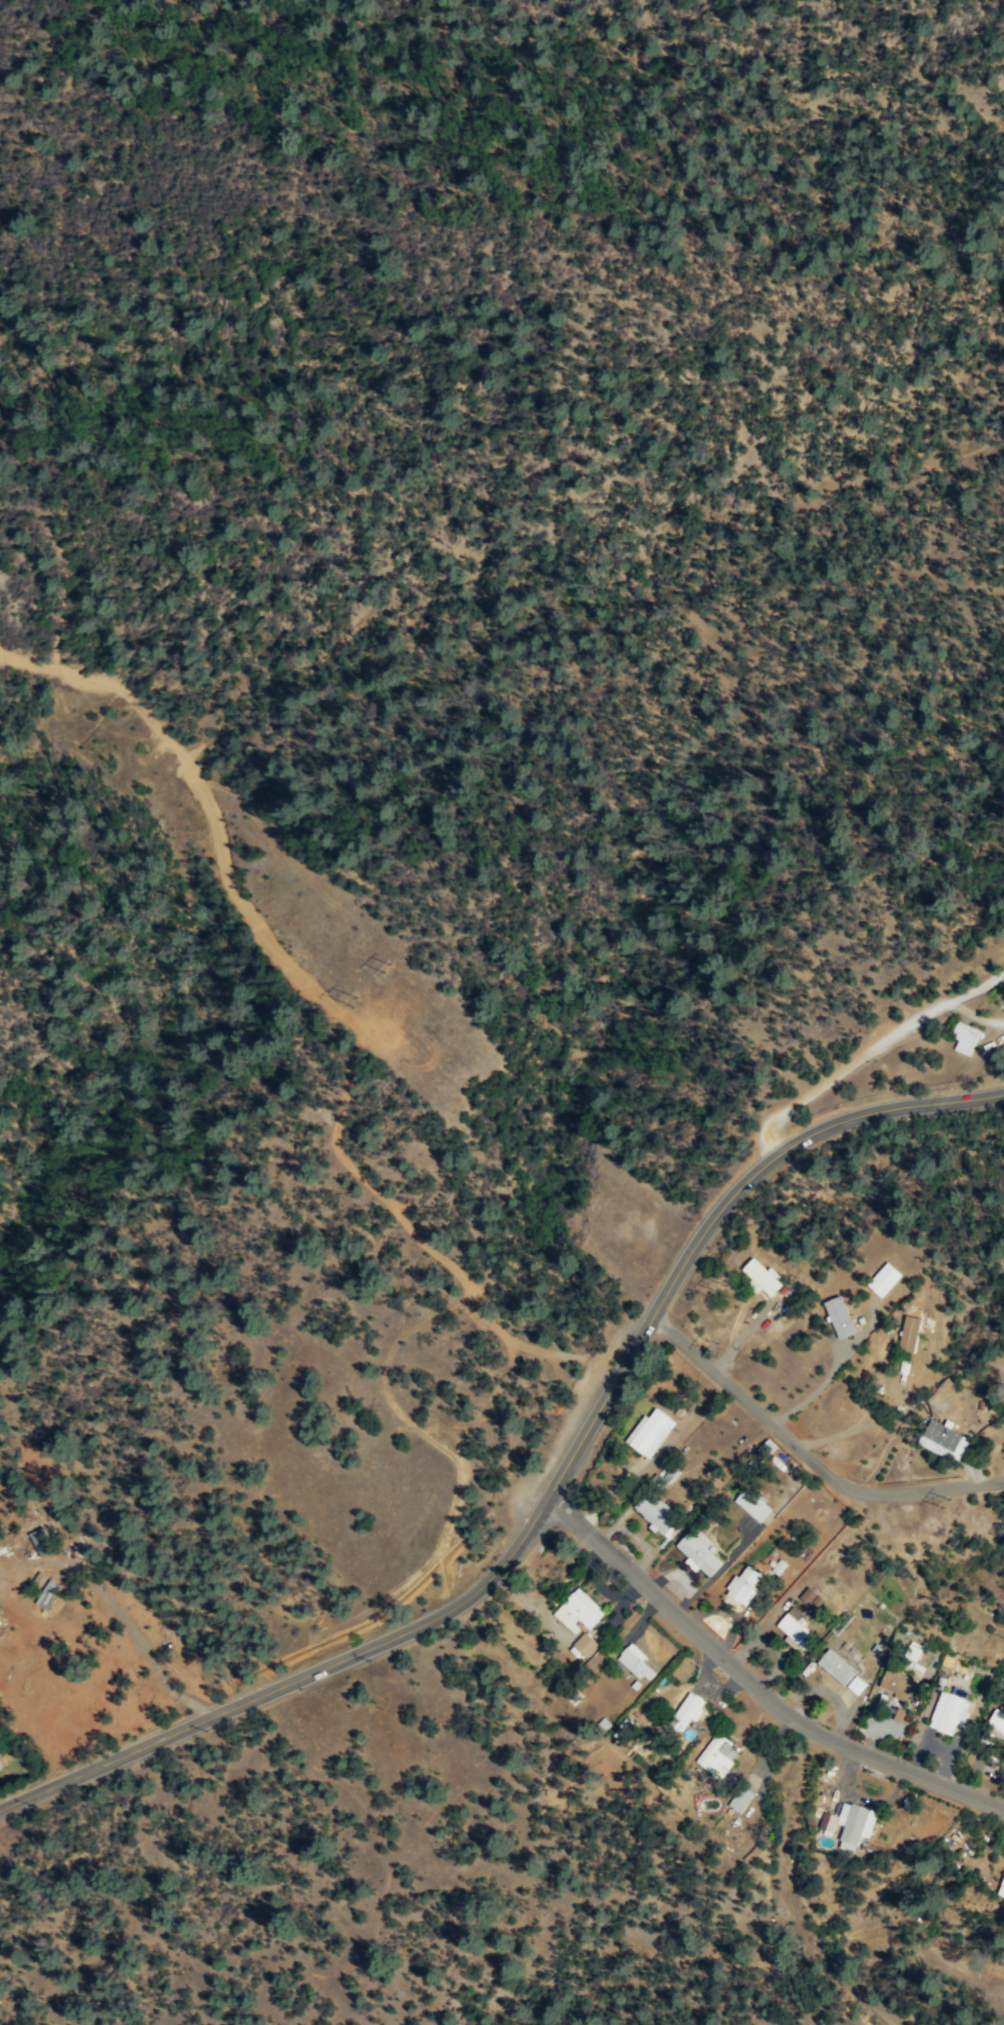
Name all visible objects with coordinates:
road: (902, 483)
road: (215, 805)
power tower: (389, 969)
power tower: (354, 1002)
road: (975, 1014)
building: (963, 1037)
road: (871, 1052)
road: (380, 1194)
building: (759, 1275)
building: (881, 1278)
power tower: (726, 1288)
building: (837, 1315)
building: (907, 1331)
power tower: (716, 1348)
road: (561, 1354)
road: (824, 1381)
road: (867, 1415)
building: (648, 1431)
building: (942, 1439)
road: (804, 1460)
road: (551, 1493)
power tower: (946, 1501)
building: (750, 1503)
building: (655, 1513)
road: (448, 1533)
building: (696, 1550)
road: (476, 1565)
building: (740, 1584)
building: (44, 1589)
building: (810, 1597)
building: (576, 1610)
building: (793, 1628)
building: (0, 1630)
building: (584, 1643)
building: (633, 1660)
building: (895, 1681)
road: (753, 1687)
building: (684, 1710)
building: (948, 1710)
building: (995, 1719)
building: (716, 1754)
building: (0, 1767)
building: (739, 1799)
building: (848, 1823)
building: (1000, 1886)
road: (129, 1914)
road: (374, 1930)
road: (352, 2001)
road: (346, 2017)

